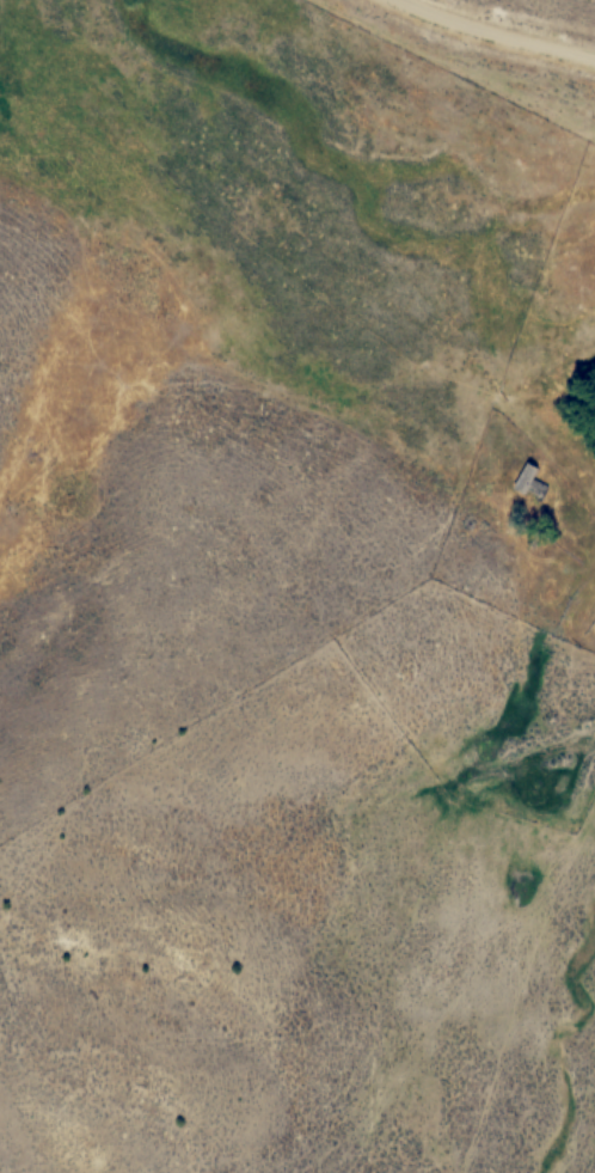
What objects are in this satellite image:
road: (493, 35)
building: (533, 484)

